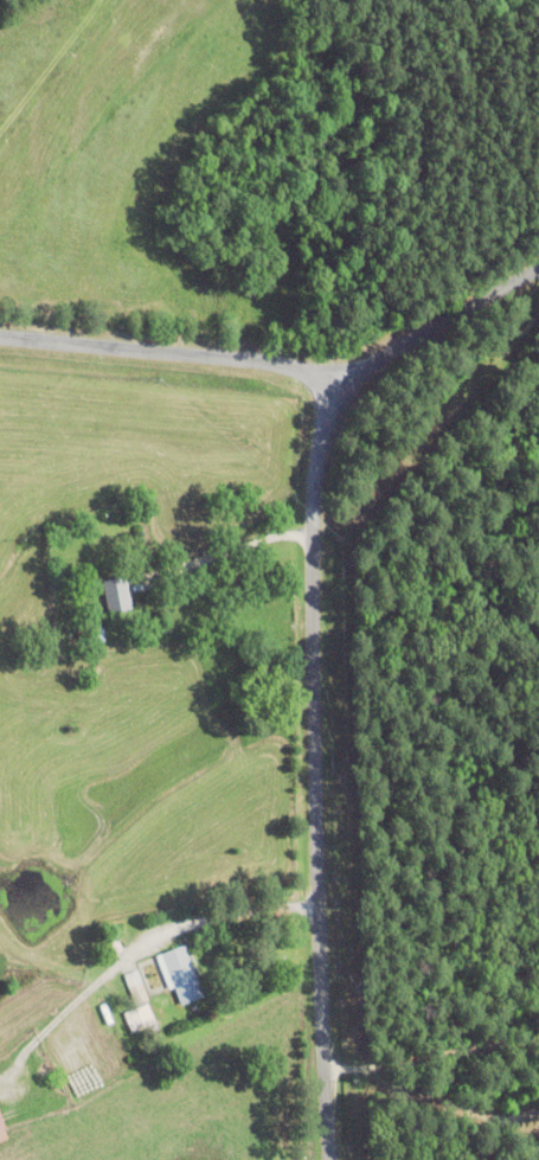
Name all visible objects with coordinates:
road: (177, 350)
building: (117, 592)
road: (317, 658)
building: (182, 974)
building: (137, 986)
building: (141, 1017)
building: (2, 1132)

